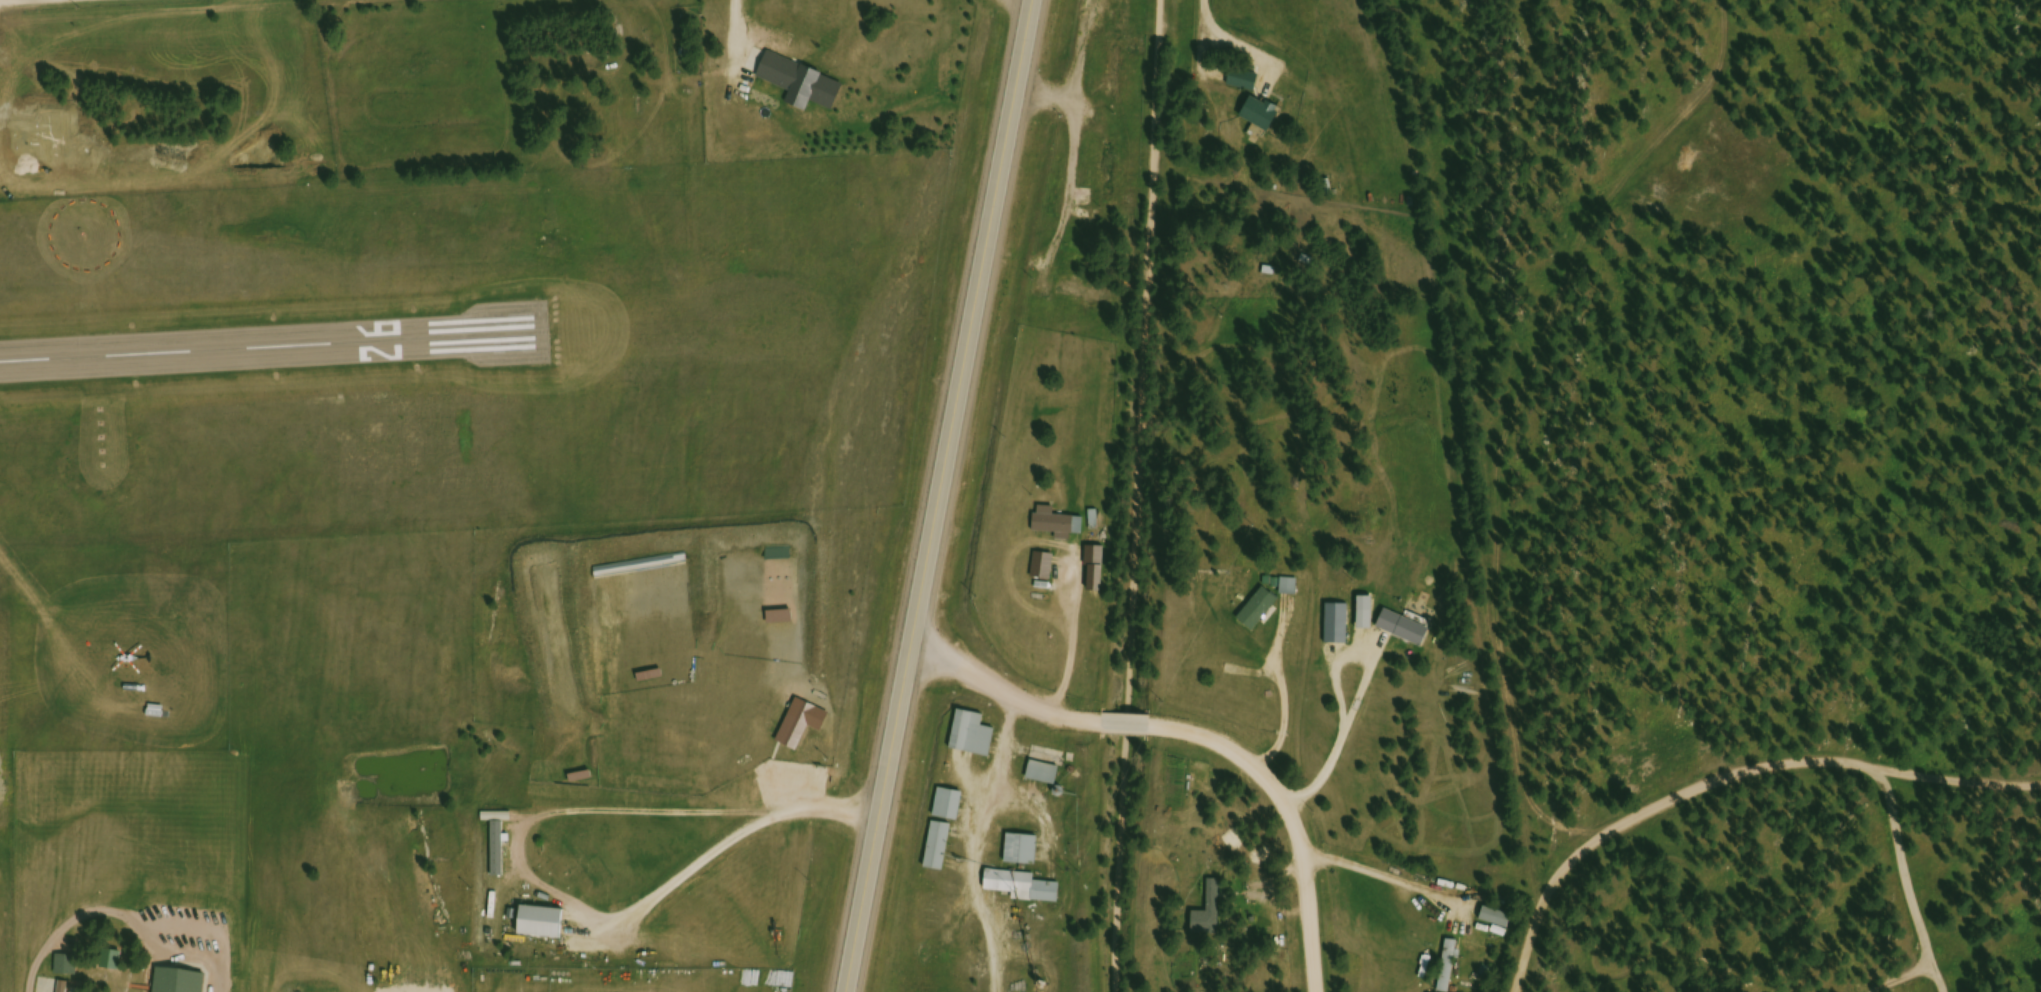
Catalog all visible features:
road: (1207, 14)
building: (1138, 50)
building: (1116, 72)
building: (1245, 81)
building: (1263, 114)
building: (1111, 171)
building: (1080, 294)
airport runway: (271, 347)
airport: (456, 362)
road: (1146, 375)
road: (942, 496)
building: (1058, 524)
building: (1044, 567)
building: (1100, 579)
building: (1290, 589)
building: (1260, 612)
building: (1338, 626)
building: (1406, 630)
road: (1005, 697)
road: (1129, 727)
building: (974, 736)
road: (1792, 767)
building: (1048, 768)
building: (951, 806)
road: (1290, 821)
building: (940, 849)
building: (499, 850)
building: (1024, 852)
road: (1905, 864)
road: (1118, 871)
building: (1025, 888)
building: (1210, 914)
building: (1499, 923)
building: (543, 924)
road: (1547, 931)
building: (1450, 966)
road: (1916, 973)
building: (181, 982)

